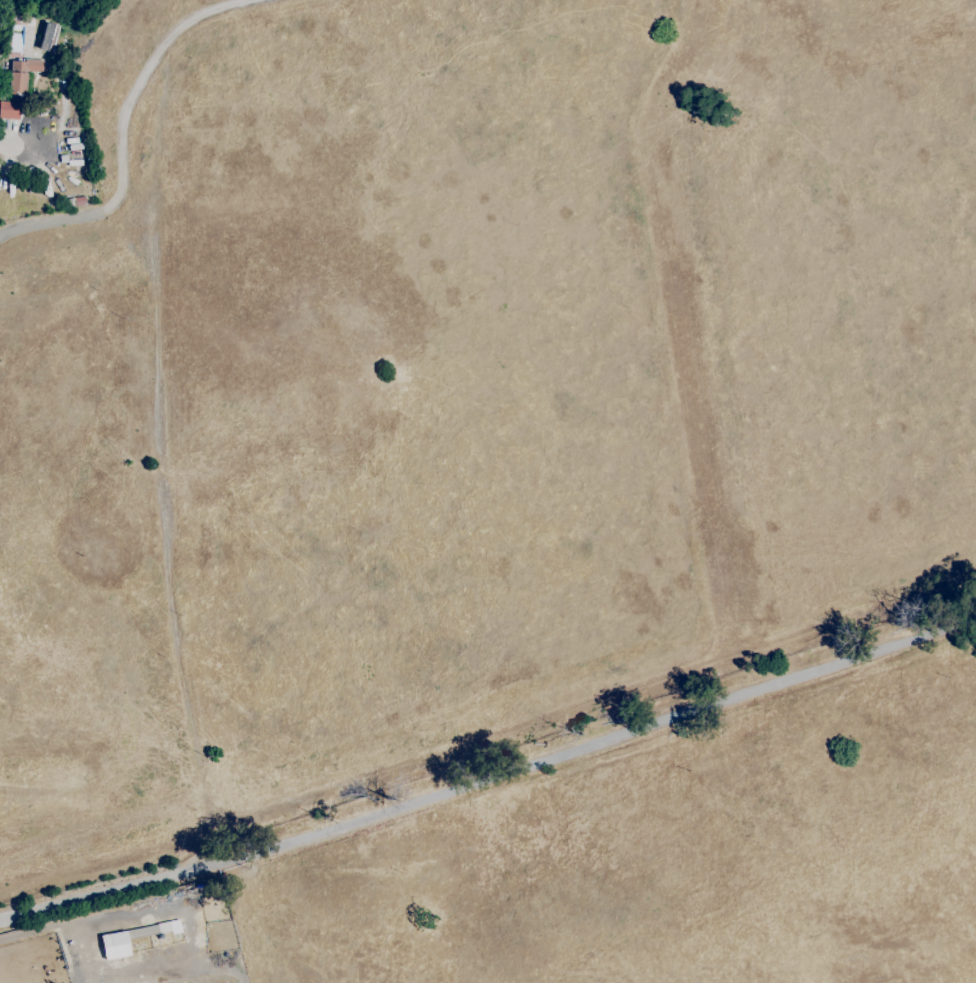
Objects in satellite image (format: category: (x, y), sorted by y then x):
building: (46, 35)
building: (21, 74)
building: (9, 110)
road: (127, 125)
road: (19, 144)
building: (80, 201)
road: (600, 741)
road: (111, 892)
building: (113, 945)

